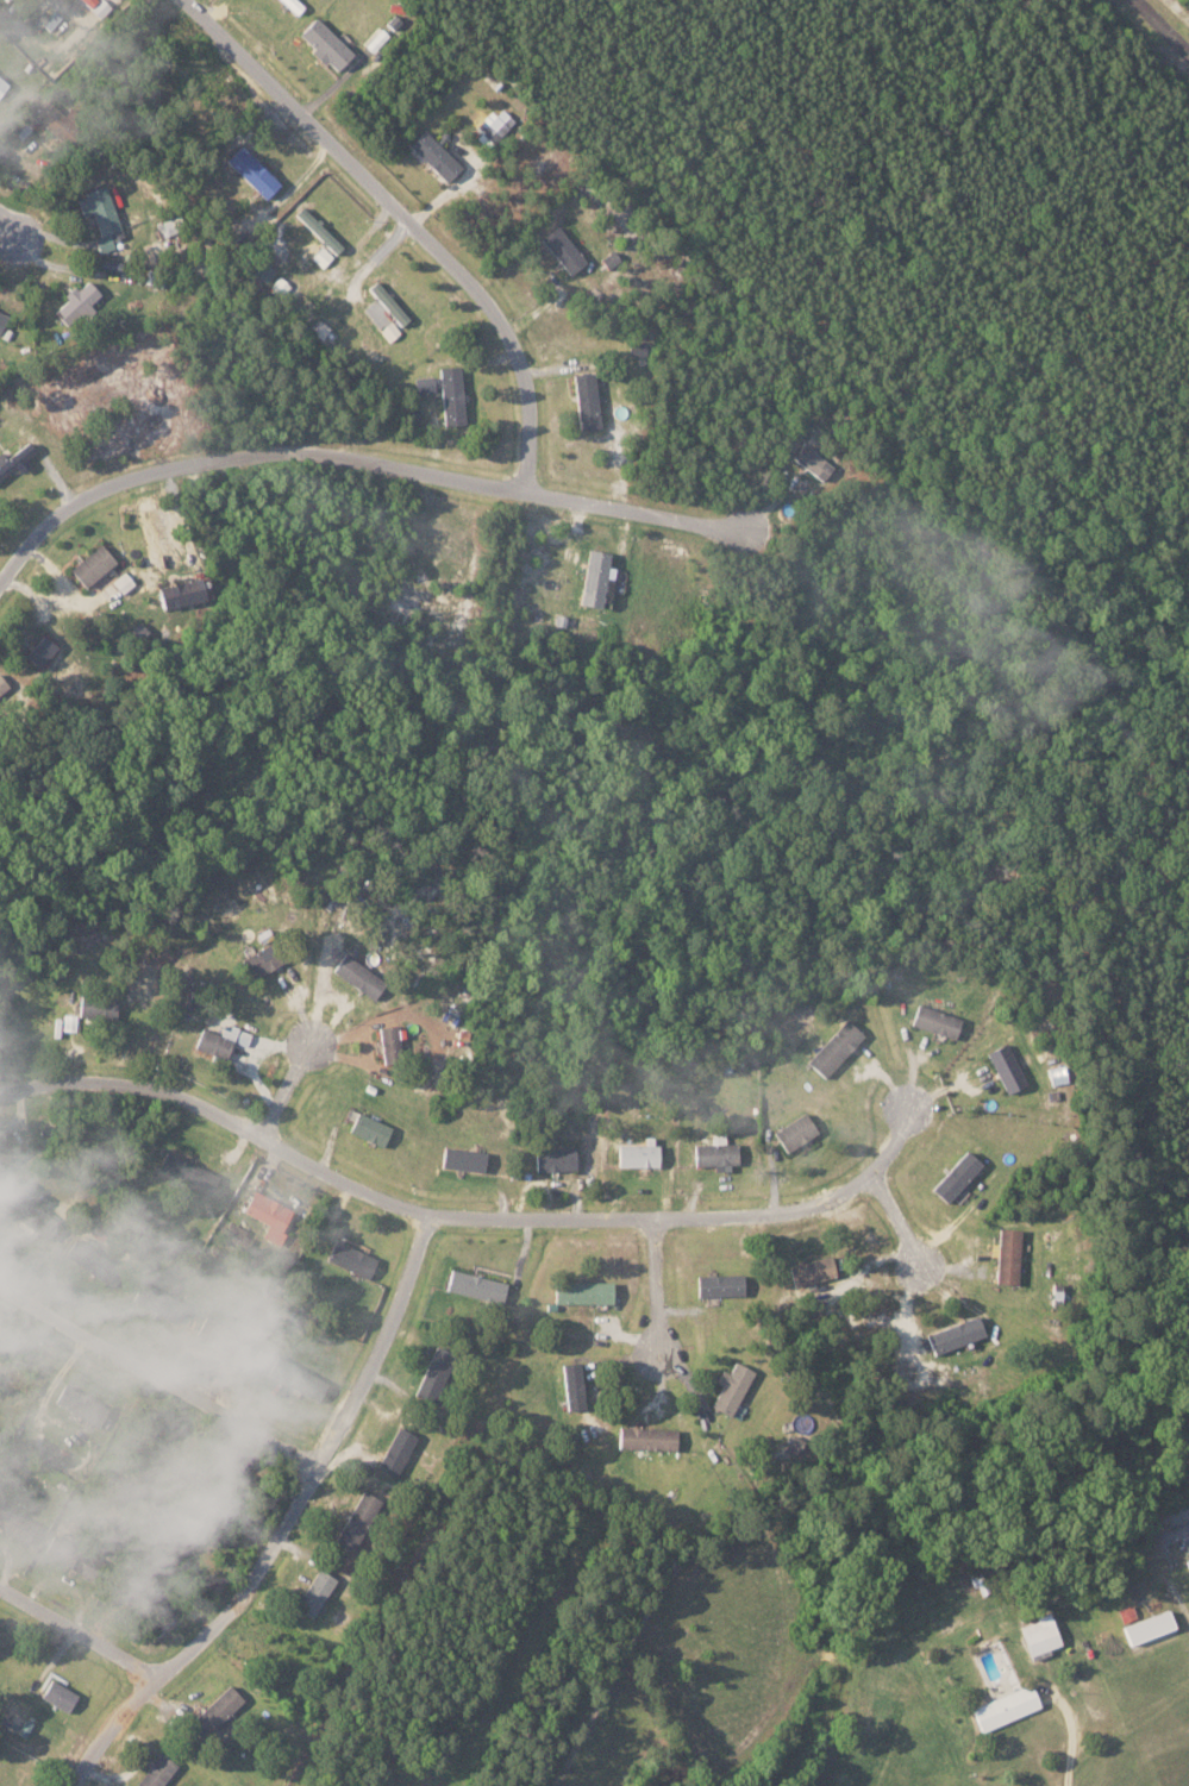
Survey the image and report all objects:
building: (60, 0)
building: (293, 5)
building: (95, 6)
road: (1162, 26)
building: (324, 43)
building: (2, 82)
building: (49, 115)
building: (497, 123)
building: (434, 155)
building: (251, 170)
building: (100, 215)
road: (402, 221)
building: (317, 228)
road: (11, 231)
building: (562, 249)
building: (320, 256)
building: (609, 258)
building: (75, 301)
building: (387, 302)
building: (1, 318)
building: (388, 330)
building: (425, 384)
building: (451, 395)
building: (586, 400)
building: (14, 457)
road: (243, 458)
building: (811, 460)
road: (640, 509)
building: (90, 564)
building: (594, 577)
building: (123, 583)
building: (180, 593)
building: (40, 650)
building: (2, 685)
building: (265, 960)
building: (359, 977)
building: (99, 1007)
building: (69, 1022)
building: (934, 1022)
building: (229, 1034)
building: (243, 1039)
building: (392, 1044)
building: (214, 1045)
building: (836, 1048)
building: (1006, 1069)
road: (288, 1085)
building: (40, 1128)
building: (370, 1129)
building: (796, 1132)
building: (6, 1152)
building: (716, 1154)
building: (639, 1155)
building: (463, 1159)
building: (555, 1159)
building: (189, 1173)
building: (957, 1177)
building: (269, 1210)
road: (464, 1216)
building: (36, 1218)
road: (899, 1220)
building: (238, 1235)
building: (1008, 1255)
building: (351, 1260)
building: (95, 1264)
building: (813, 1270)
building: (720, 1285)
building: (478, 1287)
road: (658, 1289)
building: (1058, 1289)
building: (584, 1293)
building: (159, 1302)
building: (505, 1326)
building: (957, 1335)
building: (223, 1336)
building: (11, 1373)
road: (158, 1373)
building: (434, 1374)
building: (299, 1378)
building: (572, 1386)
building: (731, 1389)
building: (83, 1406)
building: (649, 1439)
building: (795, 1445)
building: (396, 1452)
road: (283, 1521)
building: (357, 1521)
road: (1178, 1521)
building: (17, 1524)
building: (75, 1558)
building: (1187, 1560)
building: (315, 1594)
building: (143, 1599)
building: (1147, 1625)
road: (77, 1633)
building: (1039, 1636)
building: (61, 1697)
building: (1006, 1706)
building: (217, 1713)
road: (1074, 1746)
building: (158, 1773)

